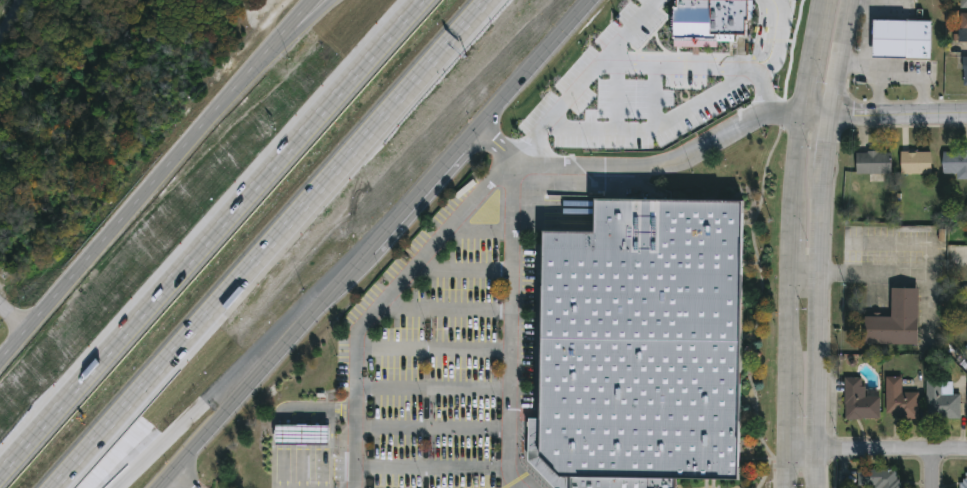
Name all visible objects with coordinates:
building: (962, 3)
road: (11, 7)
road: (3, 18)
building: (895, 23)
gas station: (895, 23)
building: (925, 23)
building: (962, 28)
road: (626, 32)
road: (776, 41)
road: (865, 44)
road: (278, 48)
road: (813, 56)
road: (838, 56)
road: (634, 66)
building: (964, 68)
road: (911, 76)
road: (879, 94)
road: (884, 115)
road: (657, 126)
road: (825, 143)
building: (871, 161)
building: (914, 161)
building: (954, 162)
road: (797, 164)
road: (640, 166)
road: (154, 178)
road: (479, 228)
road: (213, 236)
road: (792, 243)
road: (270, 244)
road: (374, 244)
road: (462, 266)
road: (805, 269)
road: (876, 273)
road: (379, 301)
road: (444, 306)
road: (13, 317)
building: (894, 317)
road: (790, 323)
road: (512, 324)
road: (818, 329)
building: (642, 342)
road: (434, 346)
parking lot: (441, 354)
road: (433, 385)
road: (222, 395)
building: (858, 399)
building: (898, 399)
building: (940, 399)
road: (831, 403)
road: (327, 407)
road: (787, 412)
road: (433, 427)
building: (301, 432)
gas station: (301, 432)
road: (305, 432)
road: (877, 449)
road: (306, 465)
road: (433, 466)
road: (786, 468)
road: (930, 469)
building: (878, 478)
road: (182, 479)
building: (963, 479)

